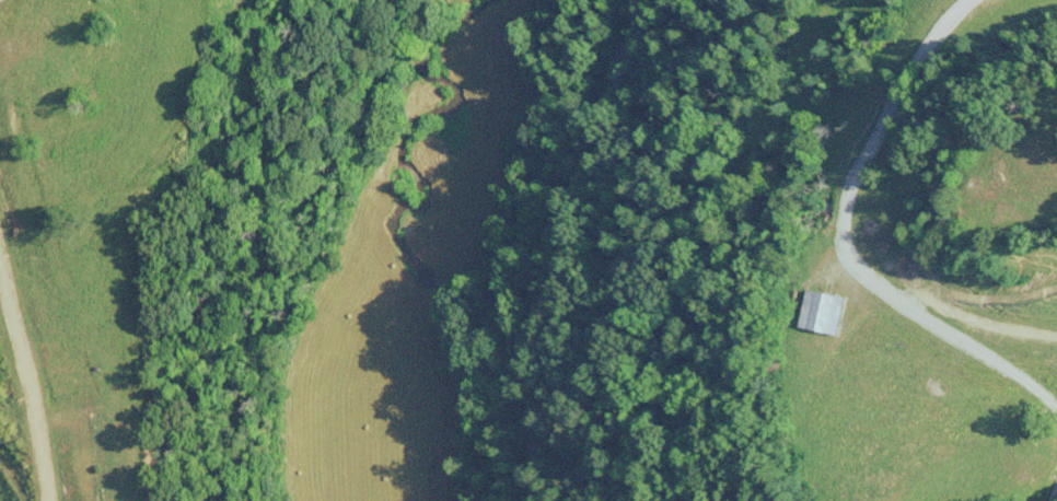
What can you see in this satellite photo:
road: (553, 243)
building: (823, 312)
park: (119, 457)

